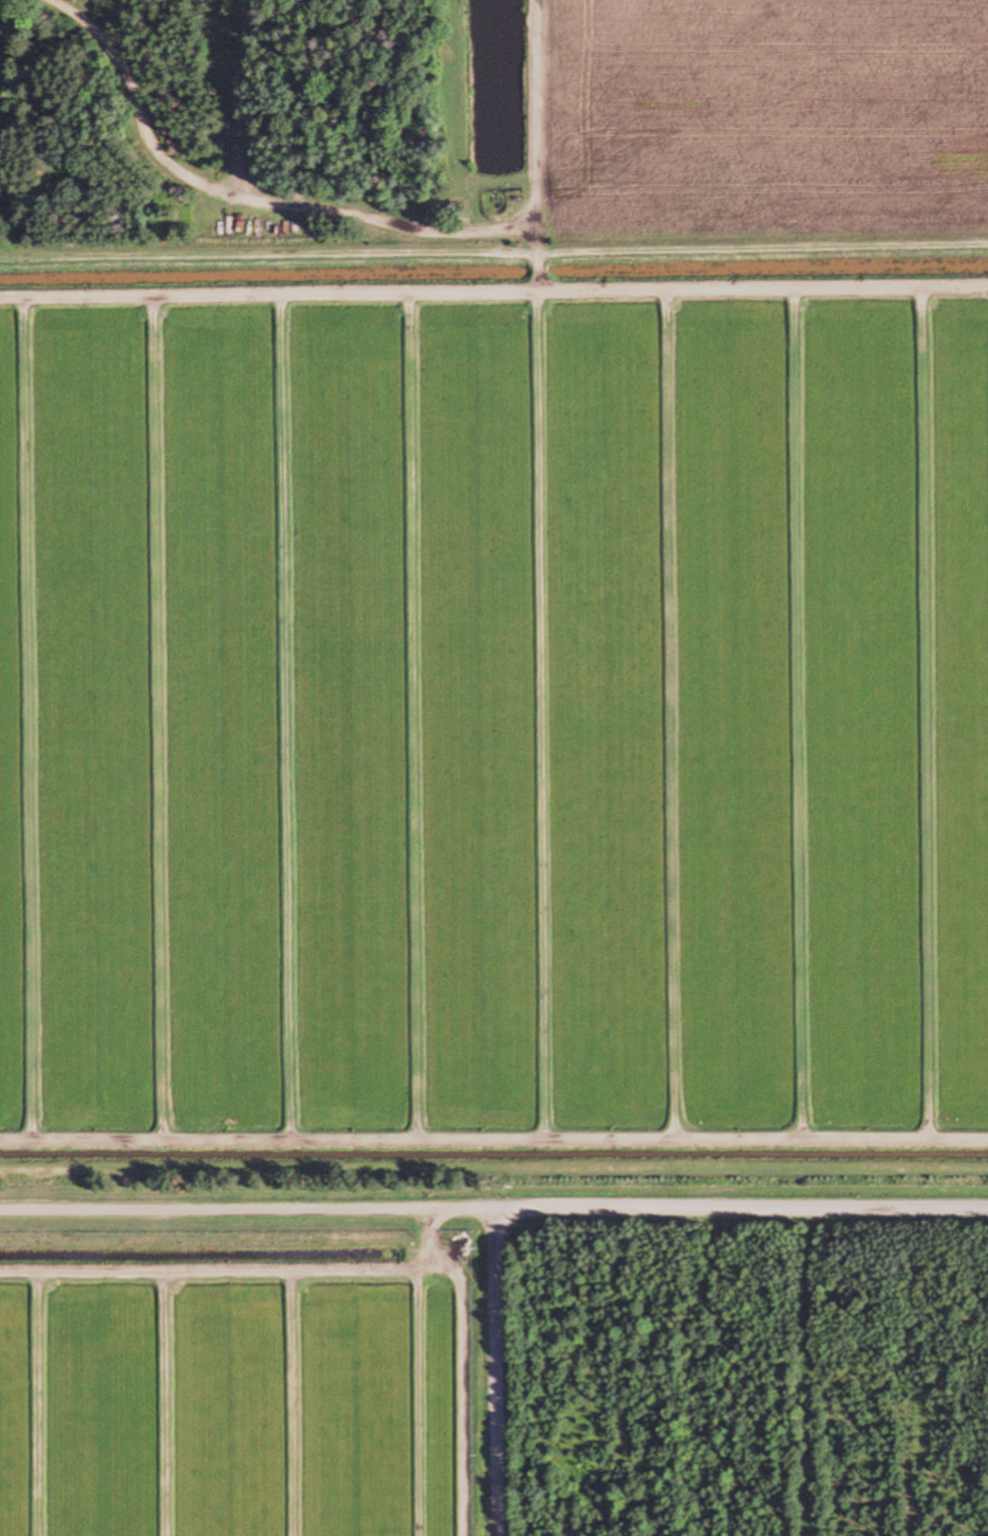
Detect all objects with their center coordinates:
road: (494, 1224)
road: (513, 1380)

